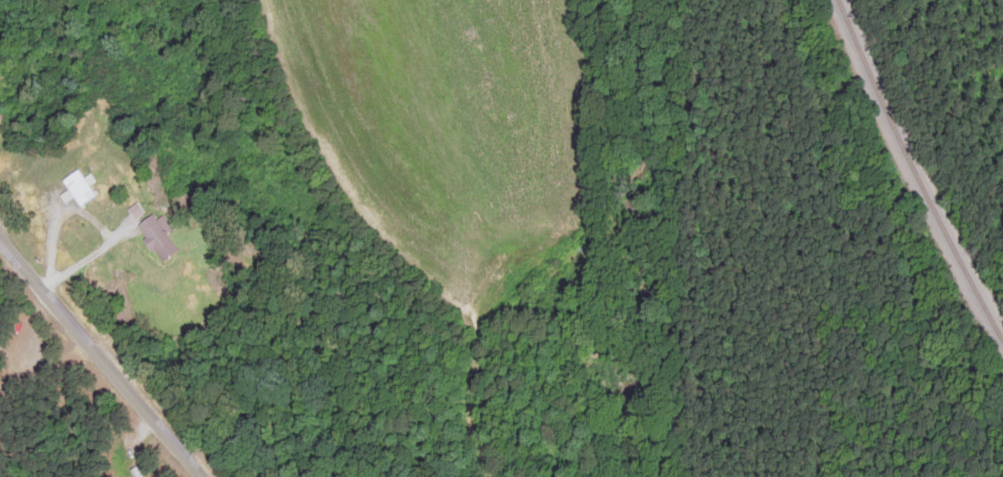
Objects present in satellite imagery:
railway: (916, 170)
building: (78, 187)
building: (156, 236)
road: (108, 358)

